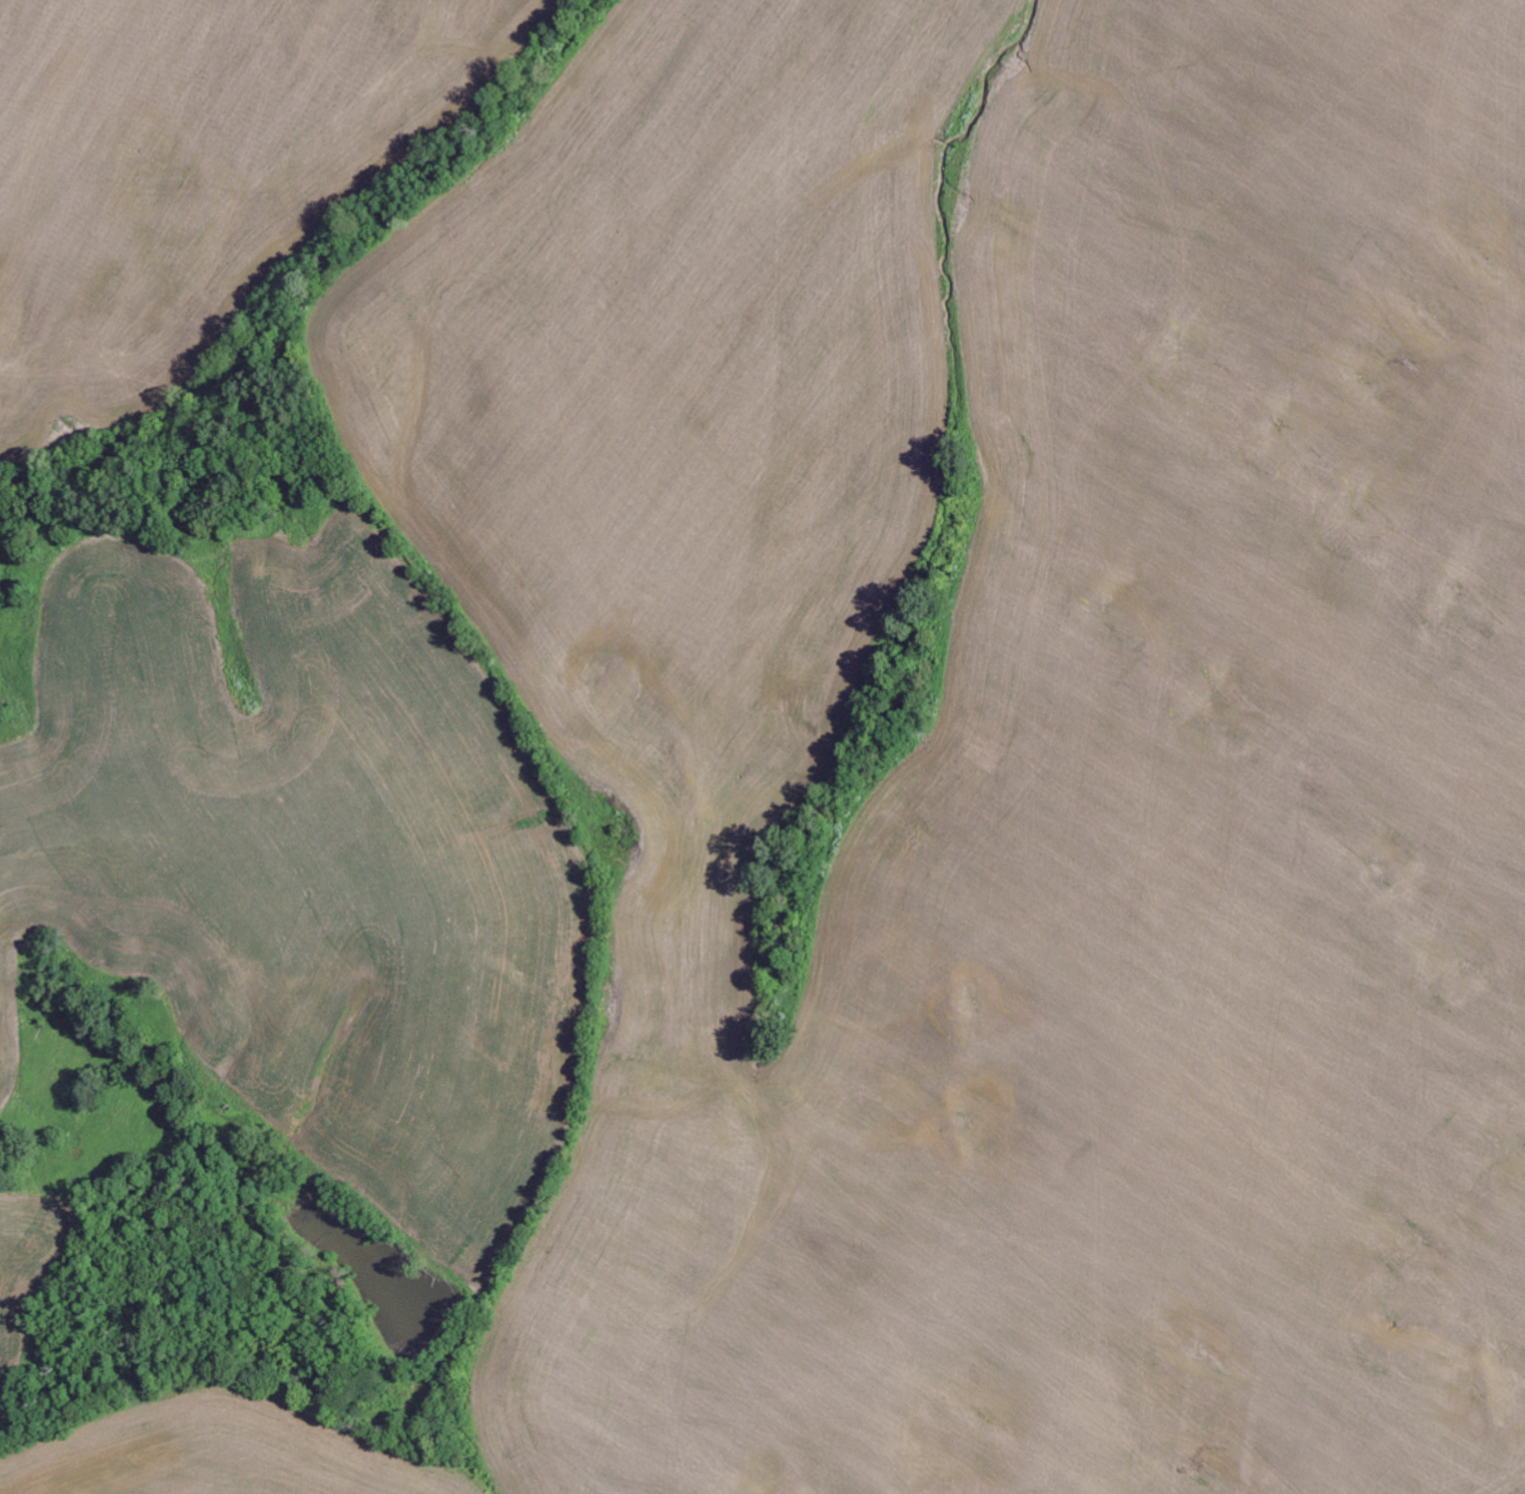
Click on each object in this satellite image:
road: (56, 53)

